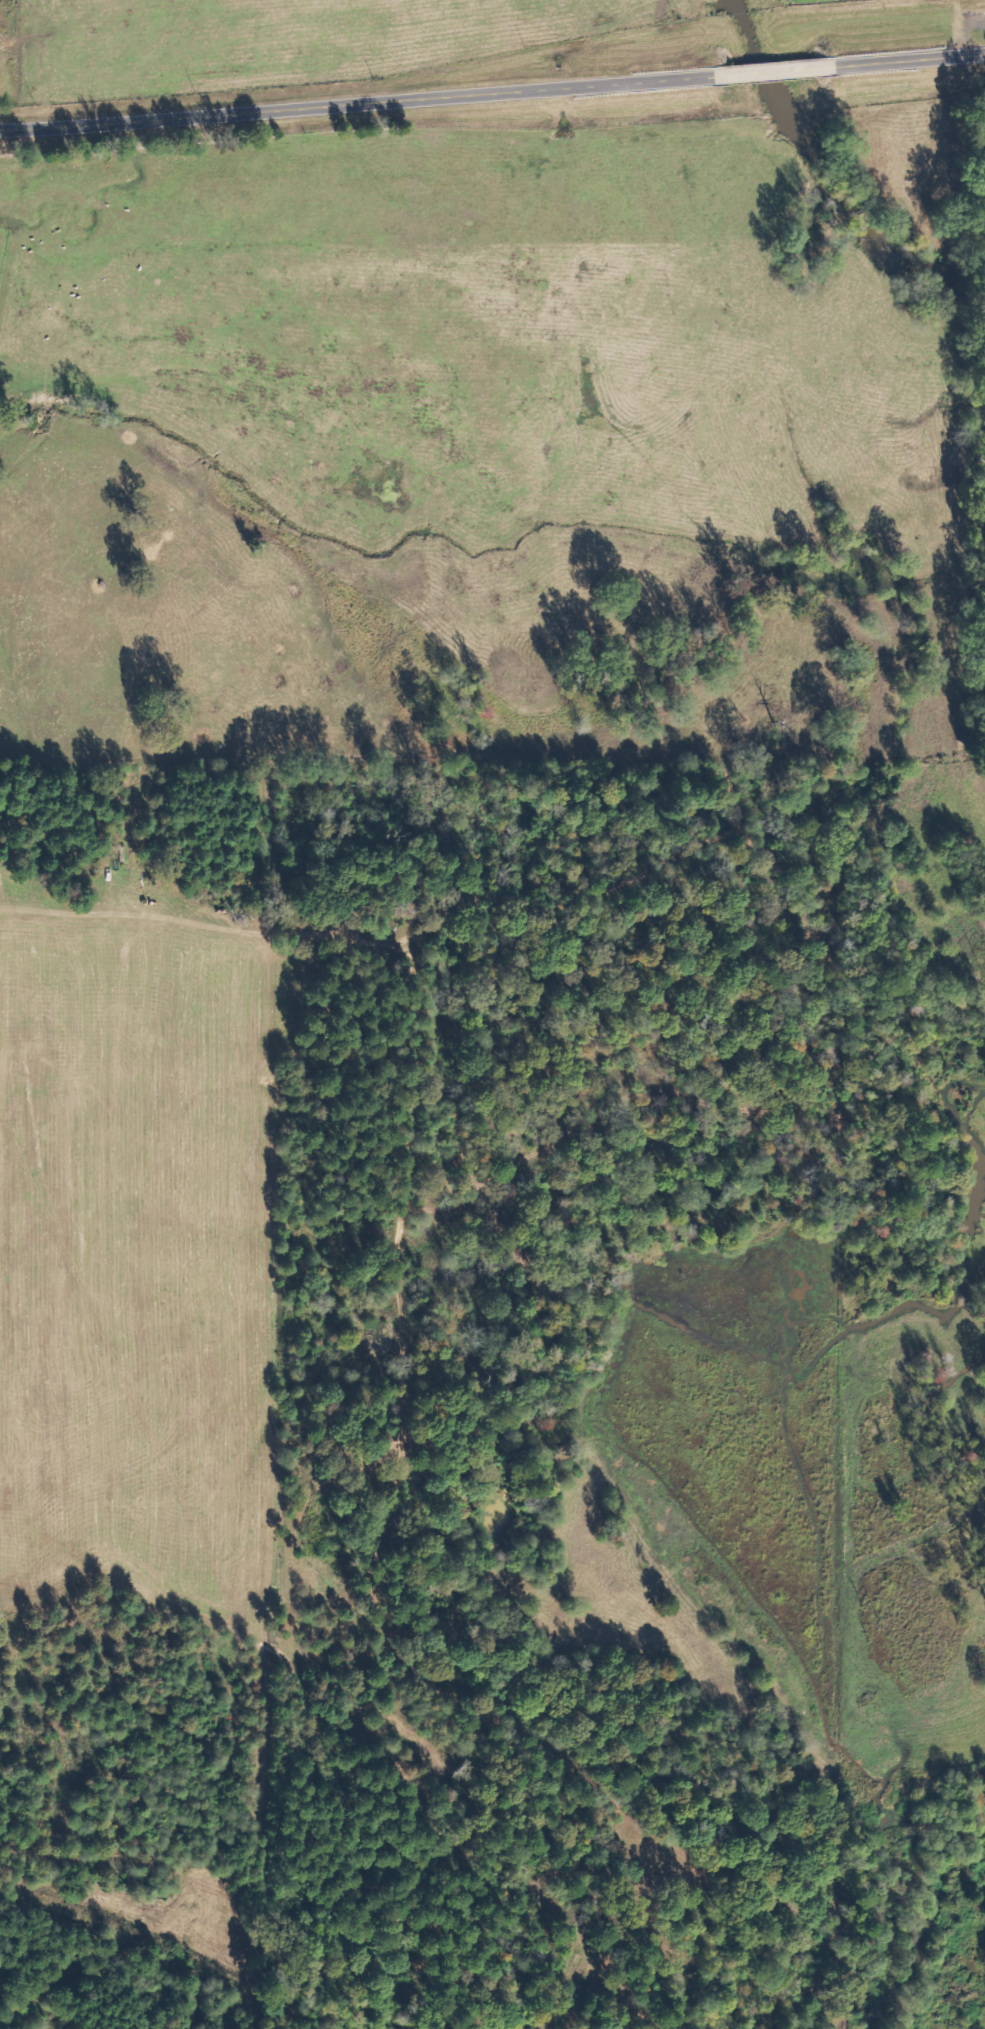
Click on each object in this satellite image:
road: (492, 94)

